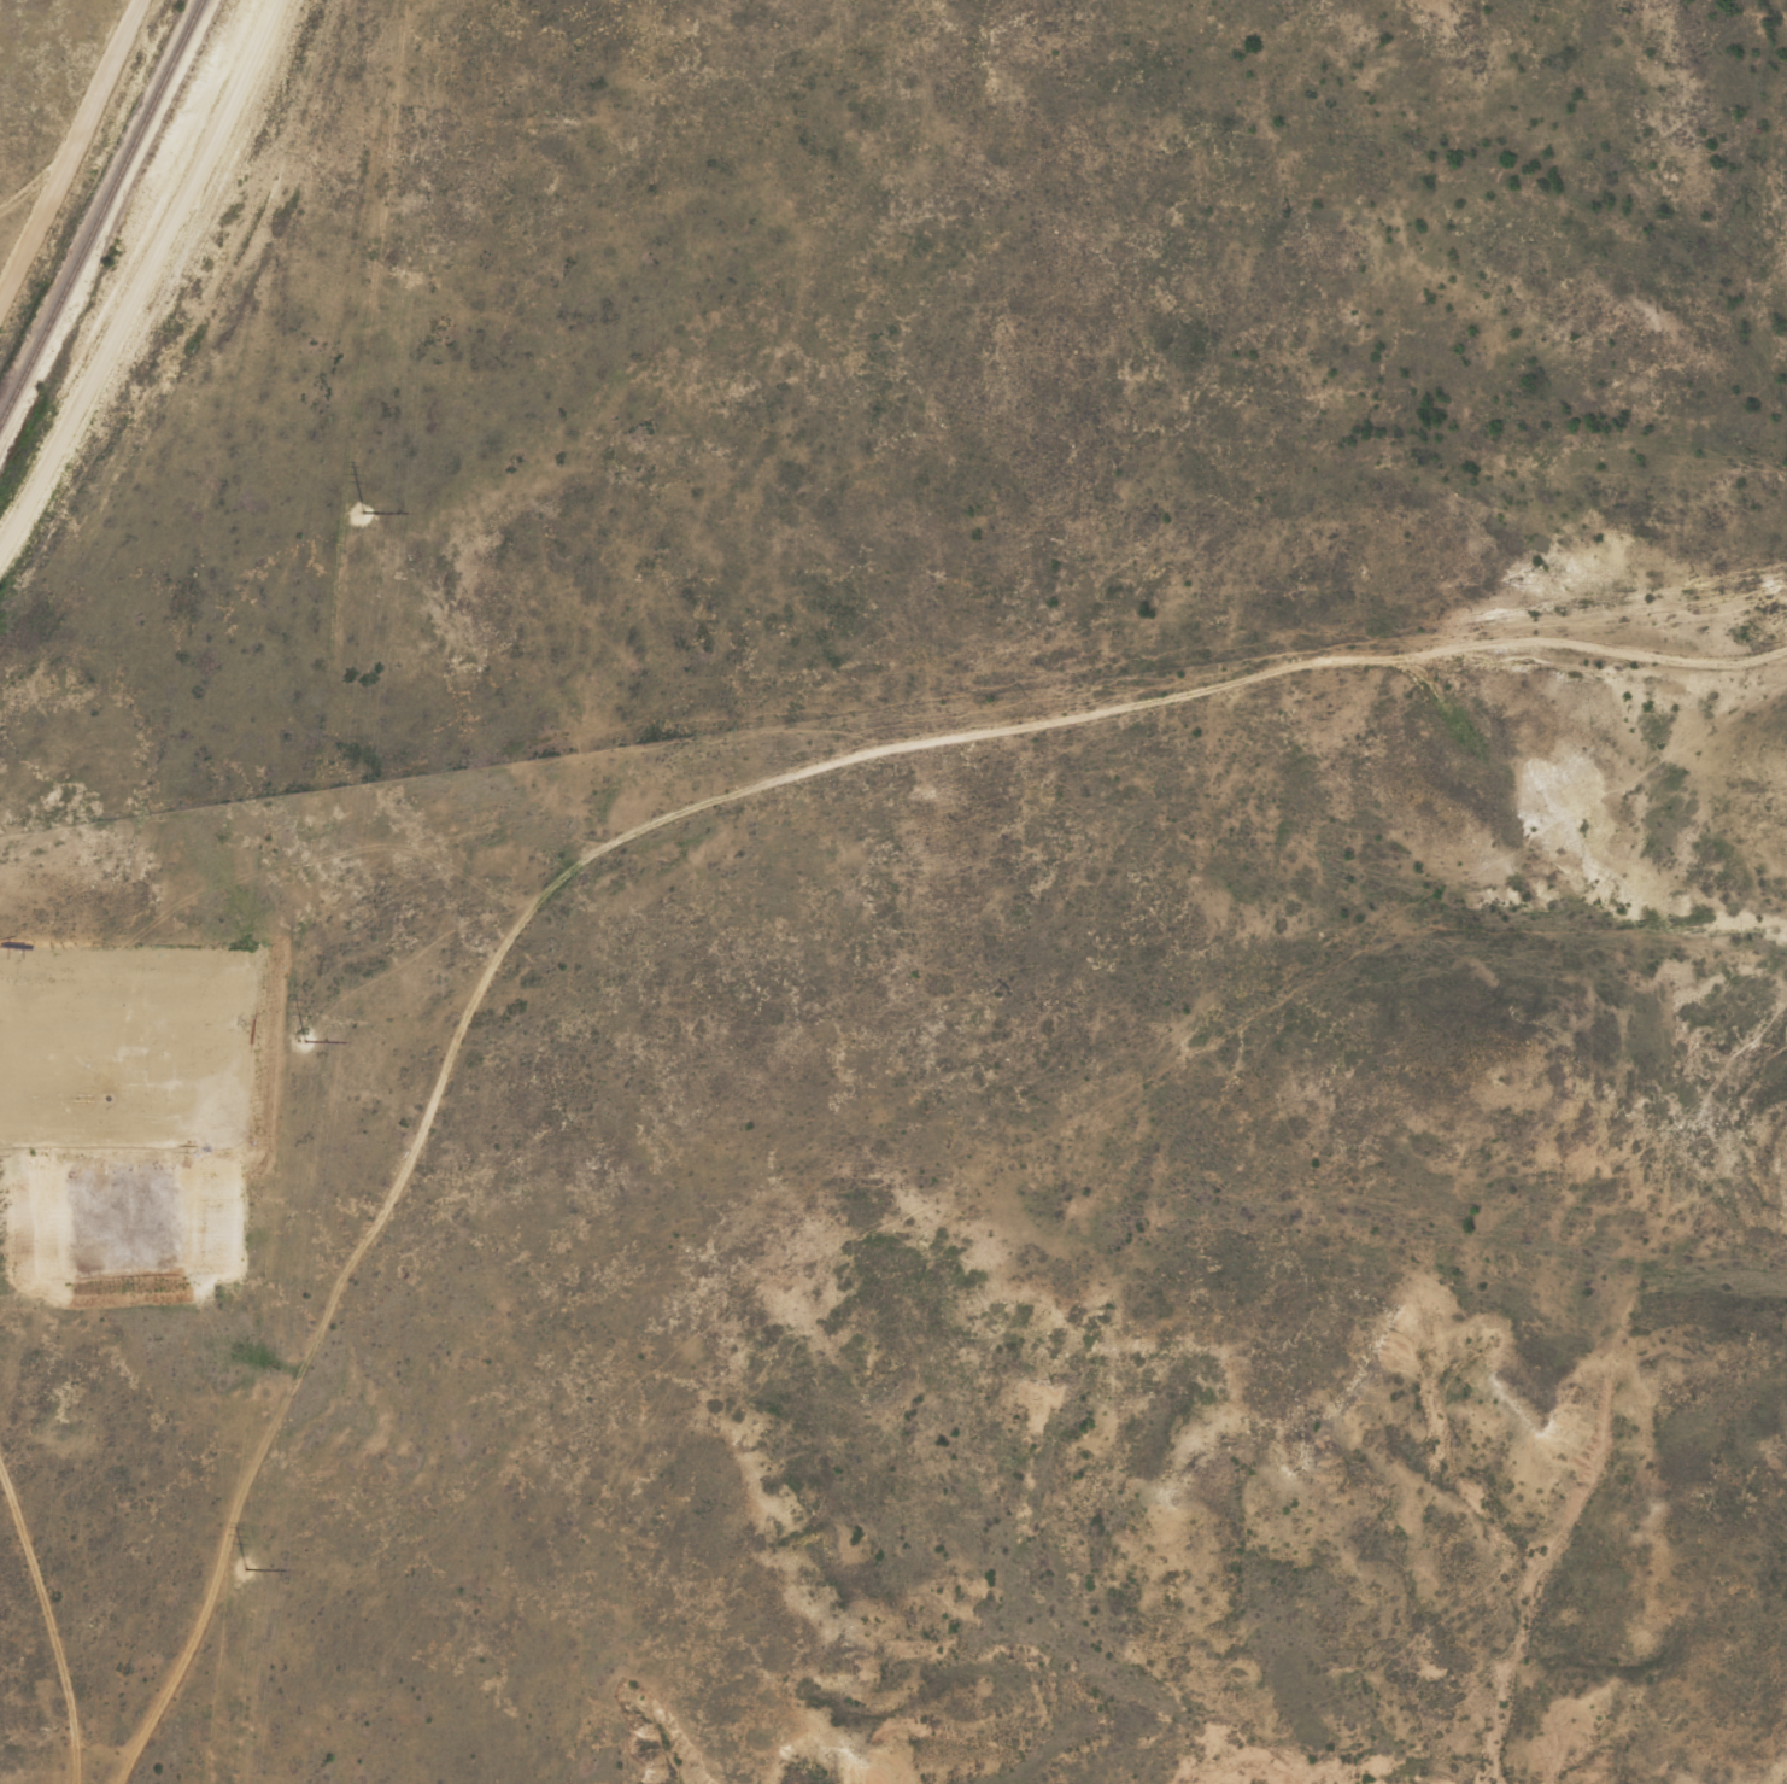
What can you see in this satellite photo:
railway: (99, 206)
road: (143, 276)
power tower: (359, 511)
road: (687, 817)
power tower: (300, 1039)
power tower: (241, 1567)
road: (54, 1581)
road: (89, 1763)

